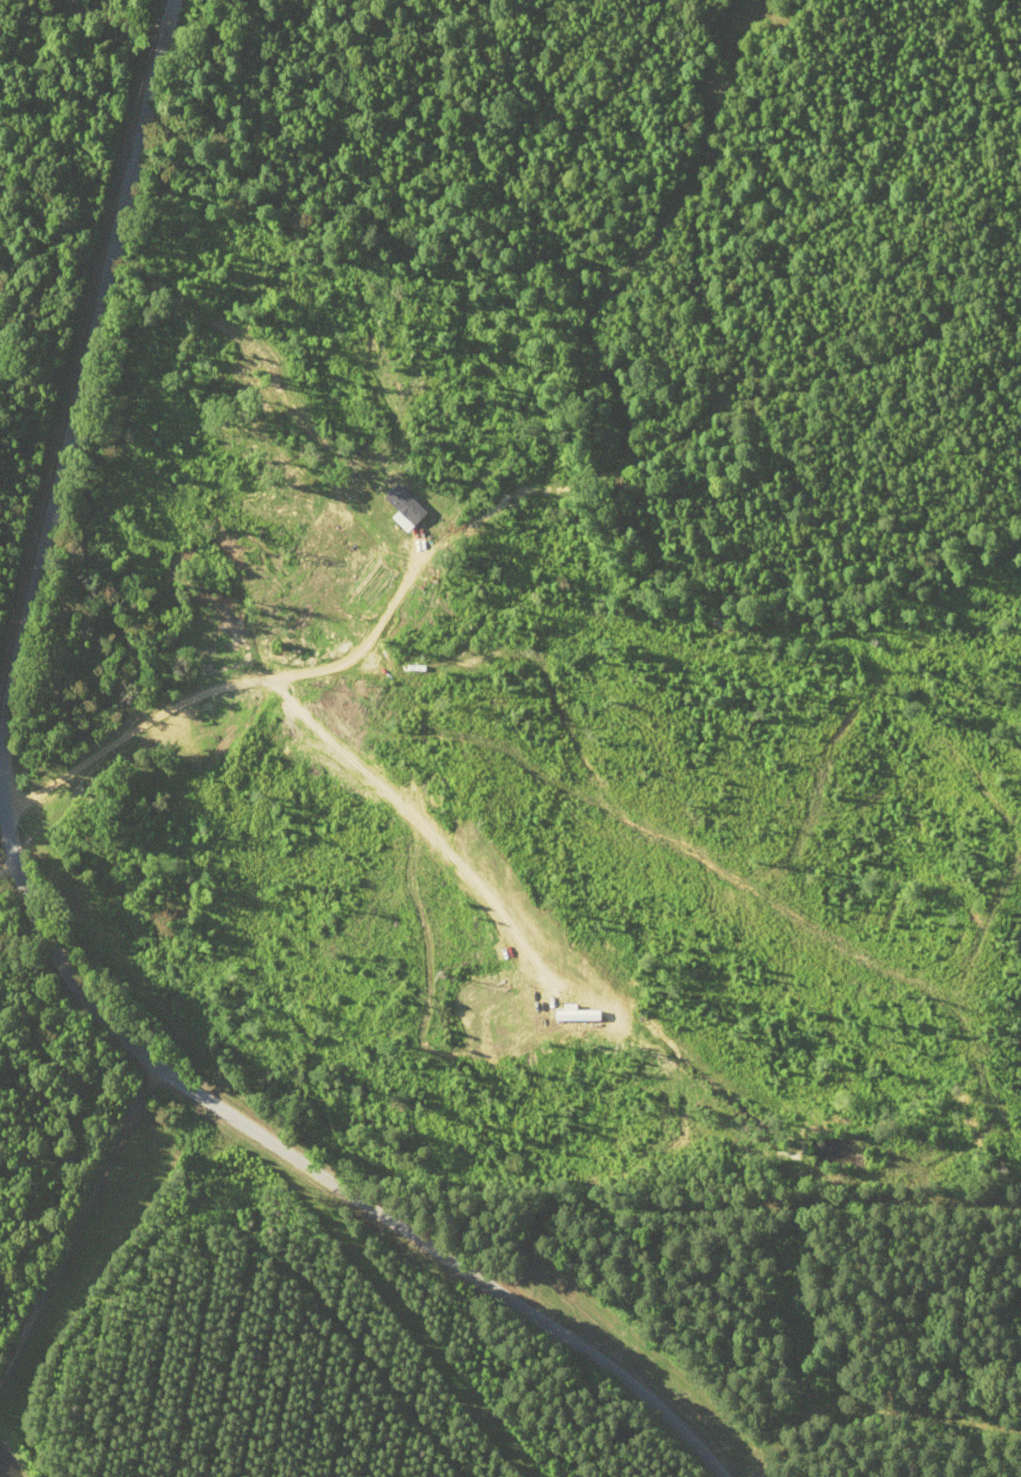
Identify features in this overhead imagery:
road: (61, 272)
road: (337, 1186)
road: (80, 1219)

